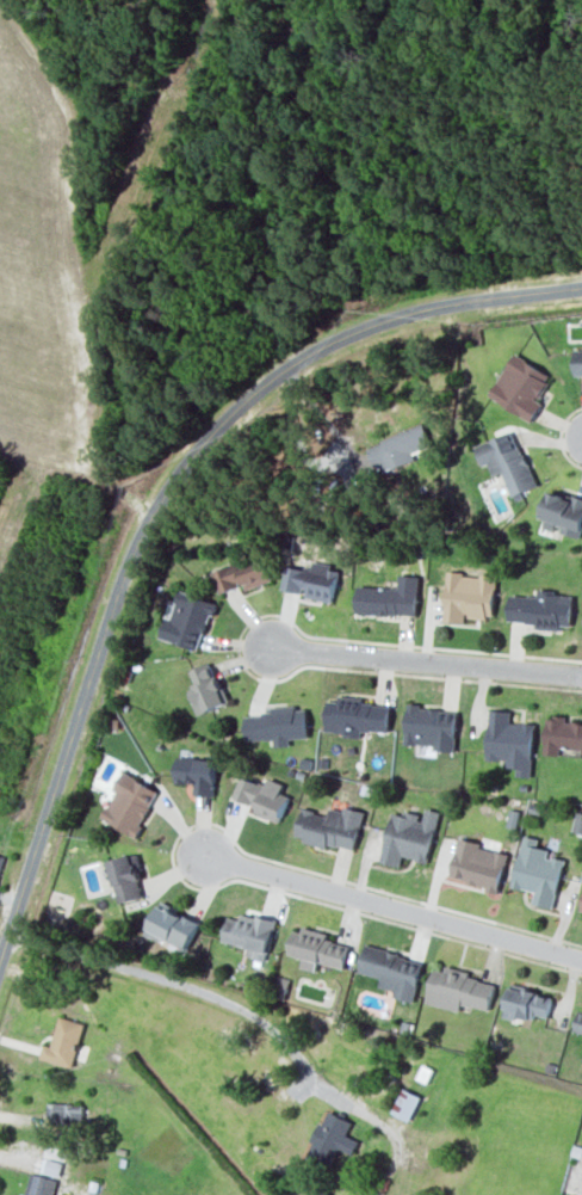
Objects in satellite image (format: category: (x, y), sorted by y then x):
building: (577, 362)
building: (520, 386)
building: (396, 449)
building: (507, 461)
road: (157, 497)
building: (563, 513)
building: (243, 573)
building: (311, 580)
building: (469, 596)
building: (390, 597)
building: (541, 609)
building: (187, 620)
road: (409, 659)
building: (206, 688)
building: (355, 714)
building: (278, 723)
building: (432, 727)
building: (562, 734)
building: (510, 741)
building: (198, 772)
building: (262, 796)
building: (130, 803)
building: (333, 826)
building: (409, 836)
building: (1, 861)
building: (478, 864)
building: (538, 871)
building: (126, 877)
building: (581, 908)
road: (396, 914)
building: (173, 925)
building: (250, 932)
building: (293, 942)
building: (321, 949)
building: (392, 971)
building: (459, 990)
building: (527, 1003)
building: (578, 1022)
building: (63, 1041)
building: (64, 1111)
building: (332, 1138)
building: (41, 1170)
building: (320, 1191)

